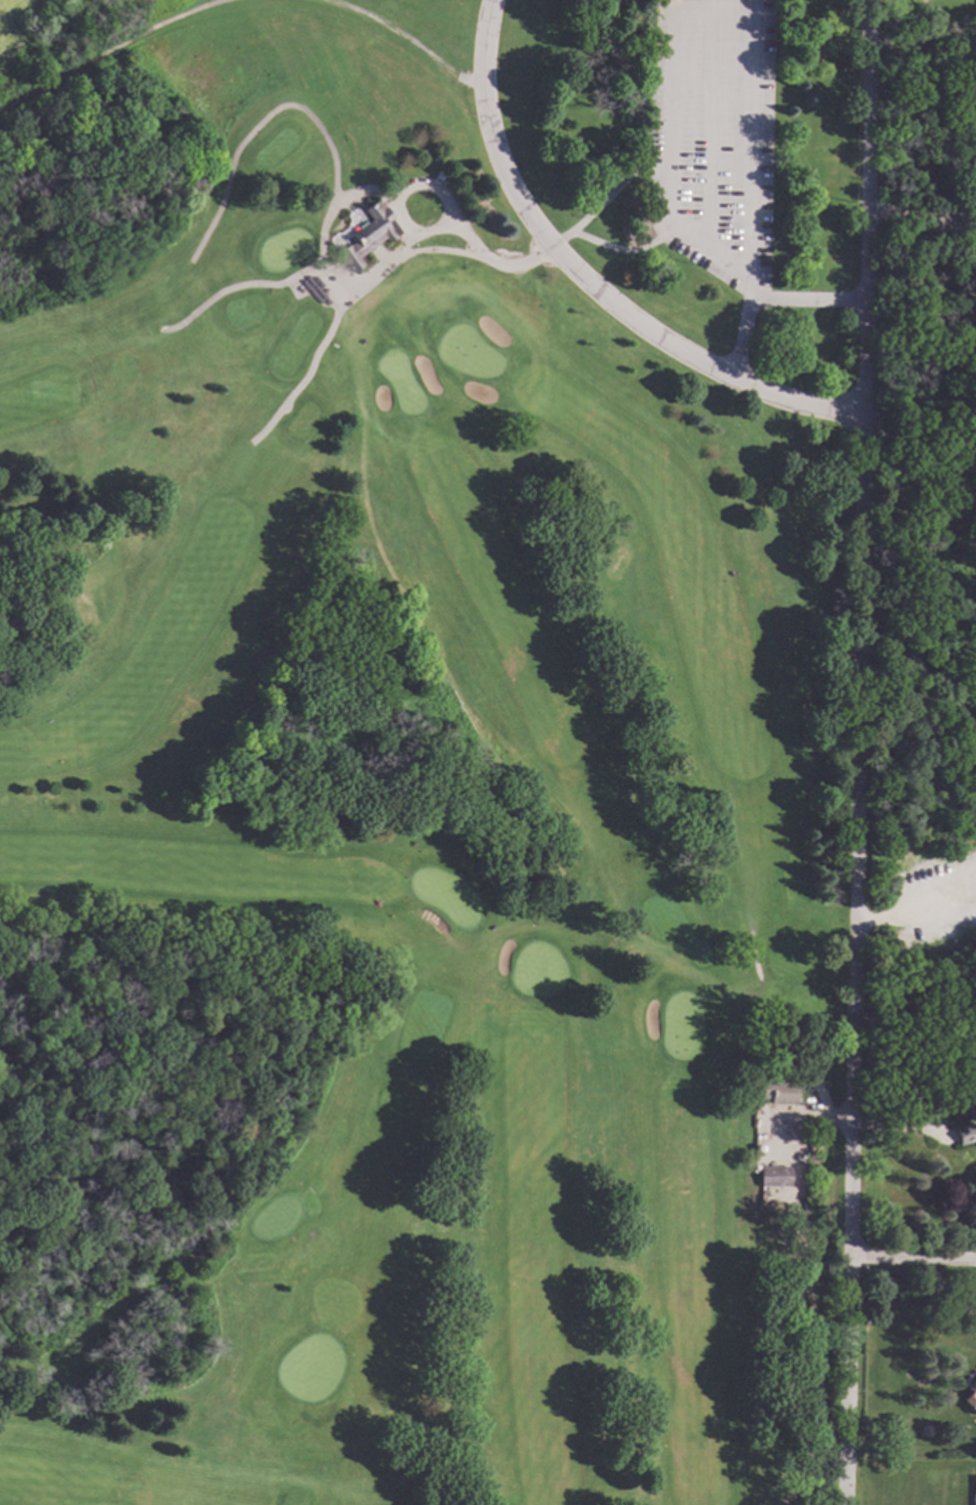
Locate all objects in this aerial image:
road: (219, 0)
road: (407, 38)
road: (109, 51)
road: (255, 126)
road: (708, 126)
parking lot: (713, 137)
road: (750, 189)
road: (400, 191)
road: (605, 199)
parking lot: (966, 217)
road: (666, 222)
road: (921, 222)
building: (369, 235)
road: (623, 249)
road: (444, 251)
road: (493, 261)
road: (298, 274)
road: (586, 279)
road: (323, 289)
road: (328, 334)
park: (925, 587)
park: (424, 748)
road: (856, 752)
park: (426, 772)
road: (914, 911)
building: (355, 987)
building: (779, 1091)
road: (797, 1115)
building: (966, 1134)
road: (807, 1156)
building: (774, 1176)
road: (913, 1258)
road: (816, 1359)
building: (970, 1398)
building: (923, 1430)

